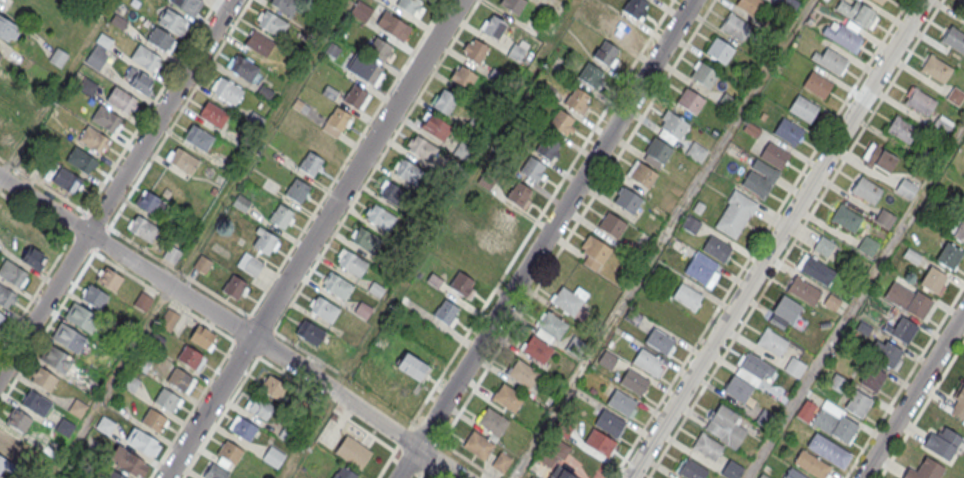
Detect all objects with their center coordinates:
building: (878, 2)
building: (188, 5)
building: (286, 5)
building: (513, 5)
building: (789, 5)
building: (411, 6)
building: (751, 7)
building: (635, 9)
building: (362, 11)
building: (963, 12)
building: (856, 14)
building: (172, 20)
building: (119, 21)
building: (273, 22)
building: (621, 28)
building: (736, 28)
building: (396, 29)
building: (494, 29)
building: (7, 31)
building: (842, 36)
building: (160, 39)
building: (104, 40)
building: (955, 40)
building: (259, 43)
building: (381, 51)
building: (720, 51)
building: (476, 52)
building: (605, 53)
building: (0, 56)
building: (58, 57)
building: (145, 57)
building: (96, 58)
building: (830, 62)
building: (244, 68)
building: (937, 70)
building: (365, 72)
building: (590, 75)
building: (703, 76)
building: (463, 77)
building: (139, 80)
building: (817, 85)
building: (88, 86)
road: (56, 89)
building: (228, 90)
building: (265, 91)
building: (330, 92)
building: (955, 95)
building: (357, 98)
building: (21, 99)
building: (121, 99)
building: (576, 100)
building: (727, 101)
building: (444, 102)
building: (690, 102)
building: (920, 102)
road: (150, 106)
building: (803, 109)
road: (179, 113)
building: (213, 114)
building: (105, 118)
building: (335, 122)
building: (563, 122)
building: (673, 125)
building: (940, 127)
building: (436, 128)
building: (901, 130)
building: (788, 132)
building: (199, 137)
building: (93, 138)
building: (6, 141)
building: (547, 148)
building: (422, 149)
building: (462, 150)
building: (658, 150)
building: (696, 152)
building: (774, 156)
building: (80, 159)
building: (182, 160)
building: (880, 160)
building: (310, 162)
road: (376, 165)
road: (356, 169)
building: (532, 169)
building: (409, 173)
building: (641, 175)
road: (0, 178)
building: (760, 178)
building: (66, 179)
building: (168, 183)
road: (115, 187)
building: (905, 188)
building: (297, 189)
building: (866, 191)
road: (54, 192)
building: (393, 195)
building: (519, 195)
building: (626, 200)
building: (241, 203)
road: (542, 211)
building: (281, 215)
building: (735, 215)
building: (504, 216)
building: (380, 218)
building: (885, 218)
building: (846, 220)
road: (577, 221)
road: (46, 222)
building: (690, 224)
building: (611, 226)
building: (142, 228)
building: (959, 231)
road: (545, 238)
road: (661, 239)
road: (760, 239)
road: (777, 239)
road: (795, 239)
building: (265, 240)
building: (365, 241)
building: (490, 241)
building: (867, 245)
building: (823, 246)
building: (716, 249)
building: (596, 251)
building: (171, 253)
building: (949, 255)
road: (125, 257)
building: (34, 258)
building: (352, 263)
building: (249, 264)
building: (812, 267)
building: (702, 269)
building: (12, 273)
road: (184, 275)
building: (108, 279)
building: (933, 279)
building: (462, 284)
building: (338, 286)
building: (234, 287)
building: (801, 291)
building: (5, 296)
building: (94, 296)
building: (686, 297)
building: (907, 299)
building: (142, 301)
building: (566, 302)
road: (856, 303)
building: (324, 309)
building: (783, 311)
building: (446, 312)
building: (1, 314)
building: (81, 317)
building: (168, 319)
building: (552, 326)
building: (904, 330)
building: (310, 332)
building: (202, 336)
building: (68, 337)
building: (155, 340)
building: (659, 341)
building: (772, 343)
building: (575, 348)
building: (537, 350)
building: (888, 354)
building: (55, 357)
building: (190, 357)
building: (646, 362)
building: (412, 366)
building: (754, 366)
road: (296, 368)
building: (794, 368)
building: (522, 374)
building: (872, 378)
building: (44, 379)
building: (179, 379)
road: (904, 381)
building: (130, 382)
building: (634, 382)
building: (273, 387)
building: (737, 390)
road: (912, 394)
building: (508, 398)
building: (166, 399)
building: (958, 401)
building: (35, 402)
building: (620, 403)
building: (858, 404)
building: (77, 407)
building: (260, 407)
road: (208, 408)
road: (921, 409)
building: (18, 420)
building: (153, 420)
building: (766, 420)
building: (492, 422)
building: (834, 422)
building: (609, 424)
building: (105, 425)
building: (725, 427)
building: (244, 428)
road: (403, 435)
road: (401, 436)
building: (6, 440)
building: (141, 441)
building: (598, 441)
building: (942, 444)
building: (477, 445)
building: (707, 448)
building: (230, 451)
building: (828, 452)
building: (353, 453)
building: (273, 456)
building: (128, 460)
building: (501, 463)
building: (3, 464)
building: (811, 464)
building: (925, 469)
building: (691, 470)
building: (732, 471)
building: (215, 472)
building: (343, 473)
road: (420, 474)
building: (793, 474)
building: (114, 475)
building: (564, 475)
road: (418, 477)

